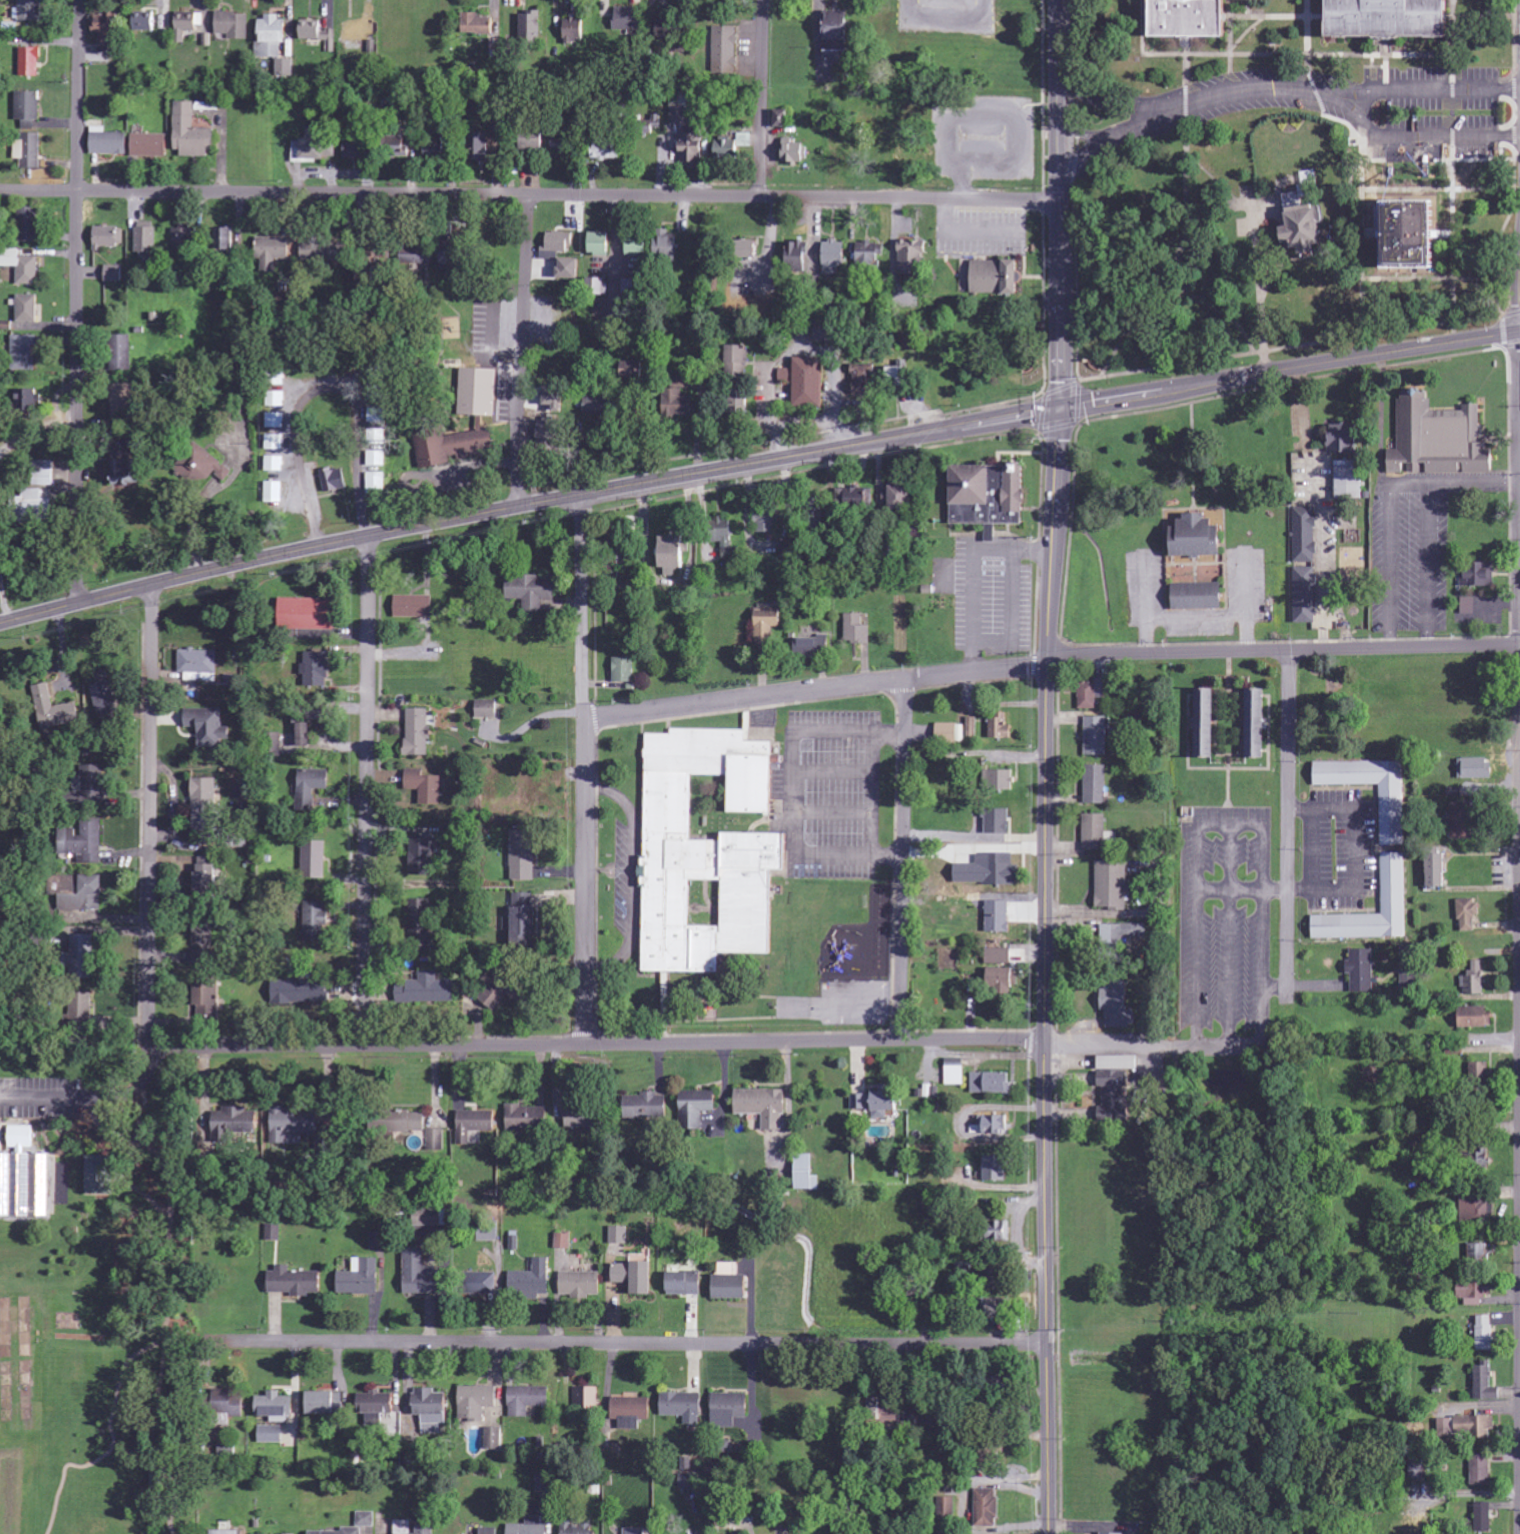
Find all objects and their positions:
building: (1274, 2)
building: (31, 11)
building: (628, 19)
building: (1196, 19)
building: (1396, 20)
building: (149, 21)
building: (533, 22)
building: (232, 25)
building: (477, 25)
building: (186, 27)
road: (1143, 27)
road: (1310, 27)
road: (1452, 27)
building: (664, 28)
building: (314, 32)
building: (574, 32)
building: (107, 34)
road: (1076, 37)
road: (1514, 37)
building: (271, 38)
building: (837, 38)
building: (725, 51)
road: (1297, 54)
road: (1452, 65)
building: (27, 66)
building: (285, 68)
road: (1514, 86)
road: (1077, 88)
road: (1453, 88)
road: (1416, 89)
road: (760, 98)
building: (28, 105)
road: (1120, 106)
road: (1515, 108)
road: (1453, 111)
road: (1177, 112)
road: (1078, 113)
building: (782, 118)
building: (687, 130)
building: (192, 133)
road: (1515, 133)
road: (1453, 135)
road: (1410, 136)
road: (1090, 137)
building: (534, 139)
building: (108, 142)
building: (562, 143)
building: (150, 145)
building: (481, 147)
building: (319, 148)
building: (355, 149)
building: (401, 149)
building: (28, 150)
building: (435, 150)
building: (607, 150)
building: (727, 151)
building: (796, 153)
road: (1078, 156)
road: (1484, 158)
road: (1515, 175)
road: (530, 194)
road: (1453, 198)
road: (1060, 203)
building: (1305, 217)
building: (28, 224)
building: (1425, 233)
building: (108, 237)
building: (146, 237)
building: (223, 238)
building: (183, 239)
building: (600, 244)
building: (556, 245)
building: (668, 245)
building: (273, 247)
building: (750, 249)
building: (325, 251)
building: (870, 255)
building: (417, 256)
building: (801, 256)
building: (912, 256)
building: (834, 257)
building: (447, 259)
building: (21, 265)
building: (570, 268)
building: (114, 274)
building: (998, 277)
building: (597, 286)
road: (77, 301)
building: (29, 305)
road: (1262, 314)
road: (521, 350)
building: (24, 353)
building: (121, 353)
building: (737, 362)
building: (634, 370)
building: (787, 375)
building: (899, 375)
building: (864, 381)
building: (810, 383)
building: (683, 384)
building: (377, 393)
building: (556, 397)
building: (276, 399)
building: (29, 400)
building: (123, 400)
building: (741, 402)
building: (679, 404)
building: (597, 407)
traffic signals: (1061, 408)
building: (377, 415)
building: (275, 420)
building: (480, 423)
building: (549, 434)
building: (1345, 439)
building: (1440, 440)
building: (275, 442)
building: (376, 458)
road: (756, 463)
building: (126, 468)
building: (202, 468)
building: (334, 480)
building: (1349, 480)
building: (376, 483)
building: (41, 492)
building: (901, 496)
building: (989, 496)
building: (854, 499)
building: (767, 520)
building: (1306, 534)
building: (1199, 537)
building: (728, 542)
building: (787, 551)
building: (672, 553)
building: (1478, 575)
building: (533, 592)
building: (1306, 595)
building: (1199, 596)
building: (413, 606)
building: (308, 614)
building: (766, 625)
building: (857, 629)
building: (813, 647)
road: (1283, 652)
building: (199, 665)
building: (317, 670)
building: (623, 670)
road: (816, 691)
building: (104, 700)
building: (55, 709)
building: (487, 709)
building: (1206, 723)
building: (1256, 723)
building: (1000, 726)
building: (209, 727)
building: (308, 727)
building: (972, 727)
building: (418, 732)
building: (950, 733)
building: (1096, 736)
building: (275, 743)
building: (1476, 769)
road: (585, 770)
building: (998, 780)
building: (95, 785)
building: (1095, 785)
building: (425, 786)
building: (311, 787)
road: (365, 791)
building: (205, 805)
road: (151, 816)
building: (1392, 816)
road: (1287, 819)
building: (998, 821)
building: (1461, 821)
building: (1094, 833)
building: (1, 836)
building: (83, 842)
building: (708, 853)
building: (422, 855)
building: (523, 856)
building: (314, 860)
road: (902, 860)
building: (989, 870)
building: (1437, 871)
building: (205, 877)
building: (1393, 884)
building: (68, 885)
building: (1112, 885)
building: (85, 896)
building: (1468, 913)
building: (998, 917)
building: (421, 920)
building: (524, 920)
building: (316, 921)
building: (1124, 934)
building: (203, 941)
road: (1519, 947)
building: (82, 957)
road: (1044, 970)
building: (1361, 971)
building: (1475, 980)
building: (1001, 981)
building: (1410, 981)
building: (425, 990)
building: (502, 990)
building: (300, 992)
building: (209, 1003)
building: (1117, 1004)
building: (82, 1007)
building: (1476, 1018)
road: (659, 1044)
building: (1120, 1063)
building: (955, 1072)
building: (1479, 1072)
building: (991, 1083)
building: (1115, 1097)
building: (877, 1103)
building: (645, 1107)
building: (764, 1107)
building: (696, 1108)
building: (527, 1118)
building: (582, 1119)
building: (236, 1121)
building: (402, 1122)
building: (294, 1123)
building: (474, 1124)
building: (992, 1126)
building: (435, 1140)
building: (996, 1169)
building: (807, 1173)
building: (100, 1176)
building: (25, 1178)
building: (1476, 1209)
building: (428, 1218)
building: (273, 1233)
building: (488, 1234)
building: (618, 1236)
building: (379, 1241)
building: (563, 1241)
building: (1479, 1255)
building: (419, 1275)
building: (636, 1277)
building: (361, 1278)
building: (532, 1281)
building: (296, 1282)
building: (481, 1284)
building: (684, 1284)
building: (580, 1285)
building: (731, 1288)
building: (1476, 1291)
park: (91, 1292)
building: (999, 1307)
road: (166, 1320)
building: (1485, 1333)
road: (641, 1341)
building: (1485, 1384)
building: (527, 1400)
building: (585, 1401)
building: (476, 1402)
building: (230, 1403)
building: (377, 1403)
building: (326, 1404)
building: (431, 1406)
building: (683, 1407)
building: (276, 1408)
building: (729, 1409)
building: (631, 1412)
building: (884, 1412)
building: (374, 1419)
building: (918, 1421)
building: (1466, 1427)
building: (271, 1434)
road: (112, 1437)
building: (493, 1439)
building: (1481, 1471)
building: (691, 1481)
building: (945, 1507)
building: (986, 1508)
building: (1483, 1518)
building: (366, 1519)
road: (168, 1520)
road: (64, 1523)
building: (404, 1527)
building: (529, 1527)
building: (578, 1527)
building: (426, 1529)
building: (352, 1530)
building: (489, 1531)
building: (634, 1531)
building: (225, 1532)
building: (1111, 1533)

